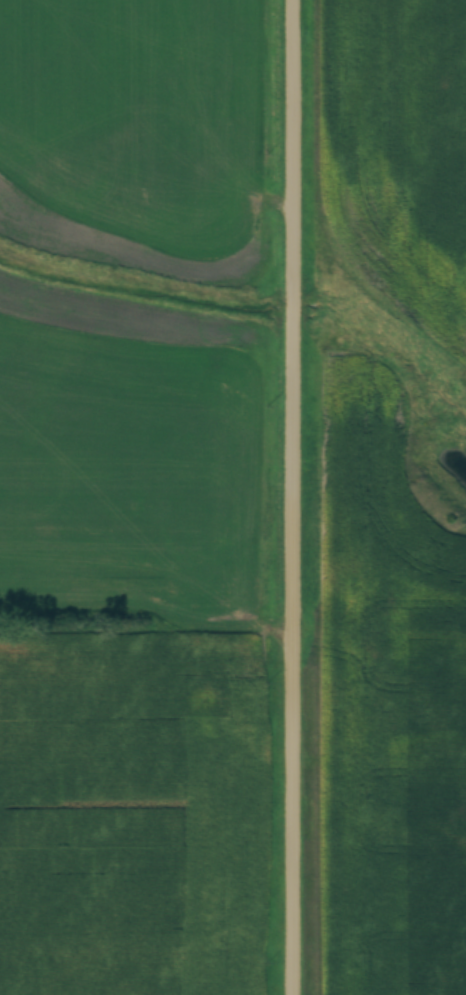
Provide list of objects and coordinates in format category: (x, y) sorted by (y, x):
road: (296, 497)

